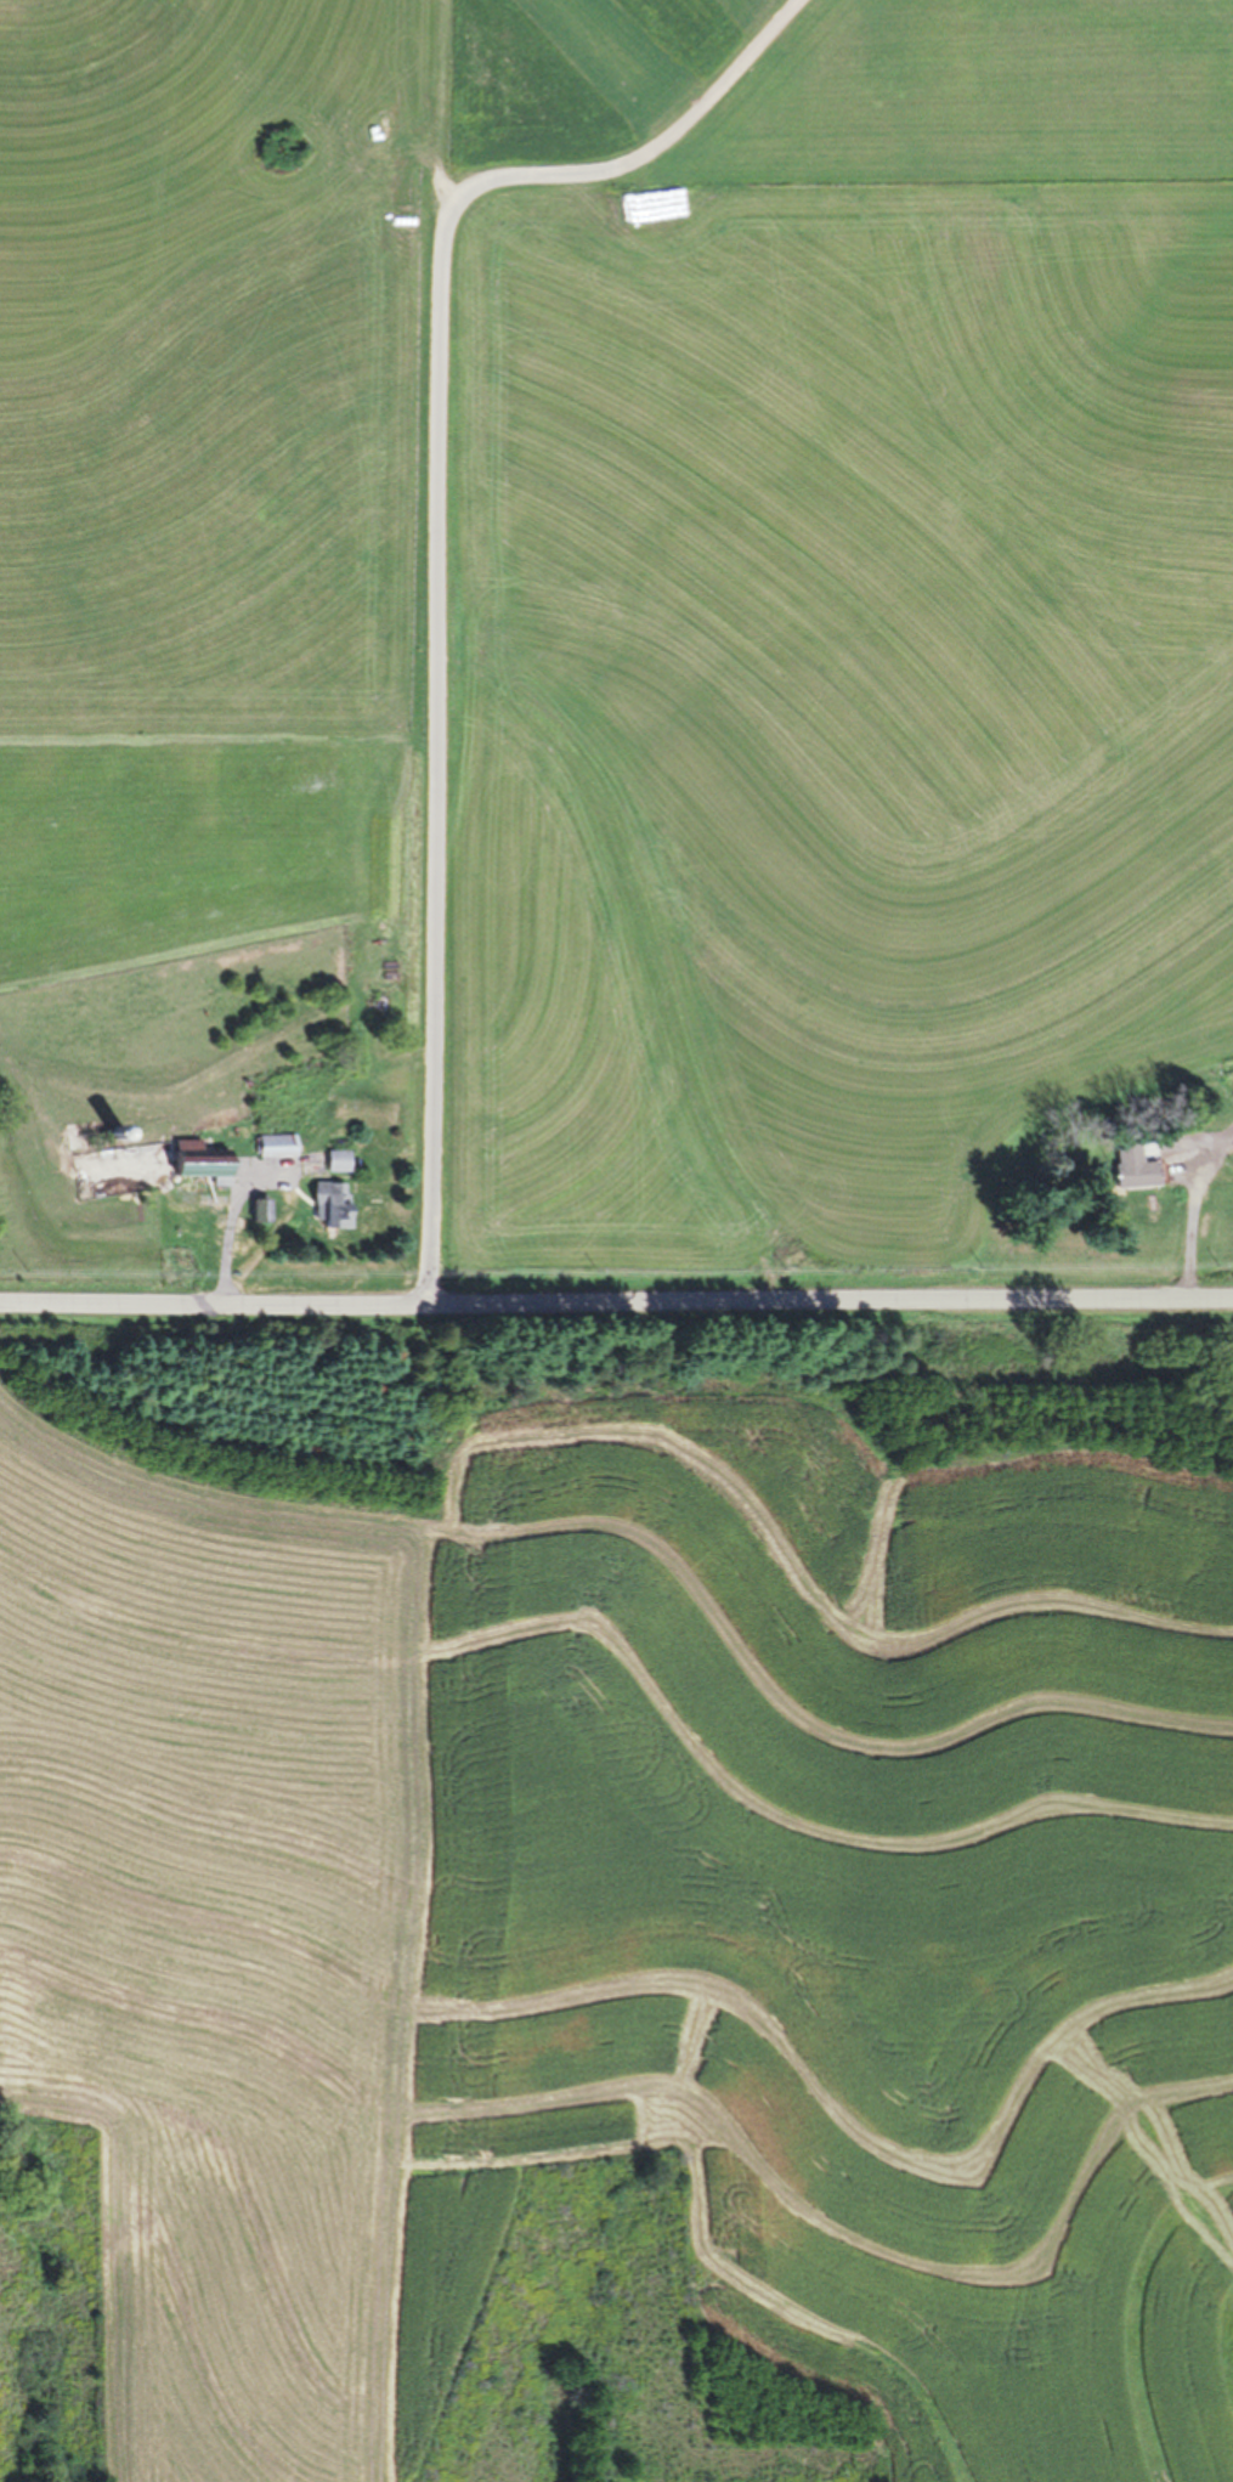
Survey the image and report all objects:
road: (652, 149)
road: (437, 751)
building: (276, 1144)
building: (338, 1160)
building: (202, 1163)
building: (1137, 1166)
building: (330, 1204)
road: (1195, 1214)
road: (616, 1302)

